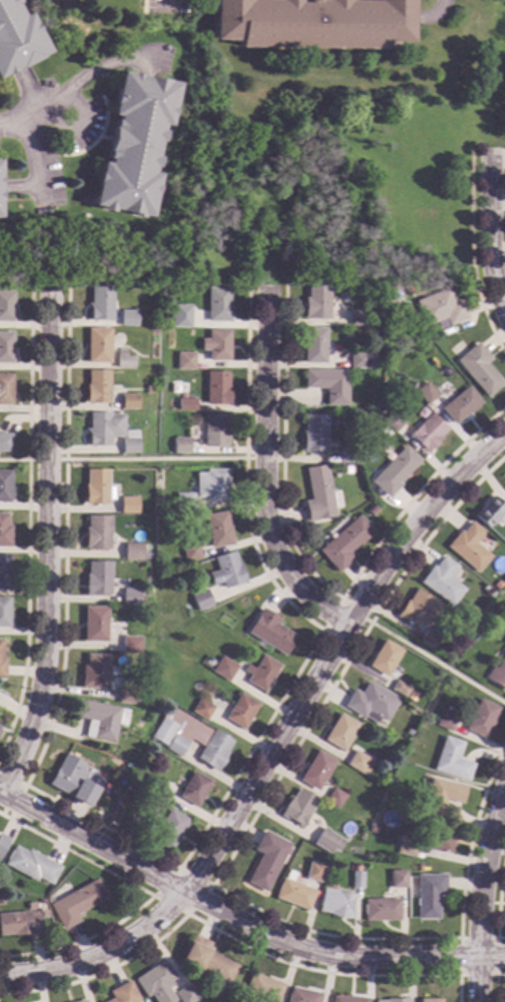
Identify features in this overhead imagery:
road: (166, 1)
building: (311, 23)
building: (16, 38)
park: (499, 77)
road: (79, 80)
road: (73, 128)
building: (133, 144)
road: (86, 147)
road: (30, 159)
road: (19, 188)
road: (489, 233)
road: (470, 257)
building: (409, 290)
building: (316, 303)
building: (100, 304)
building: (218, 305)
building: (6, 307)
building: (440, 310)
building: (127, 318)
building: (357, 318)
building: (185, 319)
building: (370, 319)
building: (217, 345)
building: (97, 346)
building: (314, 346)
building: (6, 348)
building: (122, 360)
building: (185, 361)
building: (360, 361)
building: (479, 369)
building: (445, 372)
building: (328, 385)
building: (97, 387)
building: (217, 388)
building: (5, 390)
building: (149, 390)
building: (425, 394)
building: (128, 402)
building: (187, 405)
building: (460, 406)
building: (392, 421)
building: (103, 428)
building: (215, 431)
building: (427, 432)
building: (314, 433)
building: (5, 442)
building: (129, 443)
building: (181, 446)
building: (350, 456)
road: (132, 460)
building: (346, 470)
road: (264, 472)
building: (394, 472)
building: (213, 485)
building: (4, 486)
building: (96, 488)
building: (317, 494)
building: (184, 502)
building: (127, 505)
building: (504, 510)
building: (371, 511)
building: (489, 512)
road: (27, 521)
building: (218, 530)
building: (4, 531)
building: (96, 533)
building: (345, 543)
road: (45, 546)
building: (467, 547)
building: (190, 552)
building: (132, 553)
building: (228, 570)
building: (4, 573)
road: (310, 574)
building: (96, 579)
building: (441, 582)
building: (129, 597)
building: (201, 599)
road: (335, 607)
building: (416, 610)
building: (4, 613)
building: (503, 622)
building: (93, 624)
building: (504, 626)
building: (270, 632)
building: (428, 639)
building: (129, 646)
road: (328, 648)
building: (383, 658)
road: (428, 658)
building: (1, 665)
building: (223, 669)
building: (93, 672)
building: (262, 674)
building: (498, 674)
building: (399, 690)
building: (126, 694)
building: (370, 703)
building: (201, 710)
building: (240, 711)
building: (481, 719)
building: (98, 720)
building: (446, 722)
building: (406, 731)
building: (339, 732)
building: (190, 741)
building: (450, 760)
building: (358, 763)
building: (316, 771)
building: (71, 780)
building: (152, 785)
road: (20, 789)
building: (193, 790)
building: (441, 796)
building: (334, 798)
building: (297, 807)
building: (149, 808)
building: (372, 828)
building: (168, 829)
building: (440, 836)
road: (91, 842)
building: (325, 842)
building: (3, 843)
building: (407, 846)
road: (163, 859)
building: (266, 860)
road: (225, 862)
building: (31, 866)
road: (484, 870)
building: (314, 872)
building: (356, 878)
building: (396, 879)
road: (149, 894)
building: (293, 894)
building: (428, 895)
road: (496, 899)
building: (1, 901)
building: (75, 904)
building: (336, 904)
building: (381, 910)
road: (185, 914)
road: (239, 921)
building: (18, 924)
road: (231, 938)
building: (207, 960)
road: (494, 975)
road: (478, 980)
building: (156, 983)
road: (494, 983)
building: (262, 988)
building: (123, 994)
building: (186, 994)
building: (303, 996)
building: (348, 999)
building: (396, 1000)
building: (82, 1001)
building: (430, 1001)

